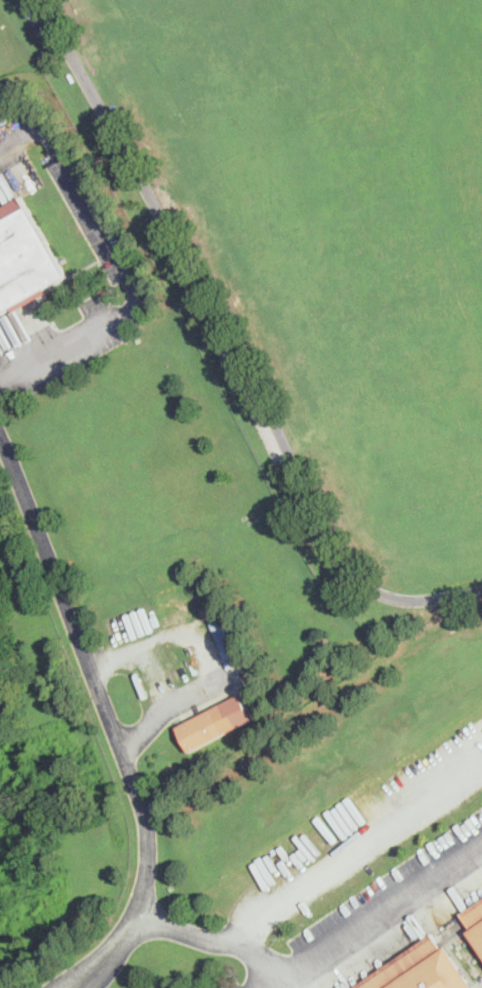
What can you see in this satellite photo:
parking lot: (92, 219)
park: (319, 249)
building: (24, 259)
road: (123, 263)
road: (235, 345)
parking lot: (253, 411)
building: (209, 611)
building: (227, 642)
road: (211, 658)
road: (108, 716)
building: (208, 727)
road: (357, 851)
parking lot: (380, 917)
road: (380, 918)
building: (475, 923)
road: (216, 941)
building: (421, 969)

